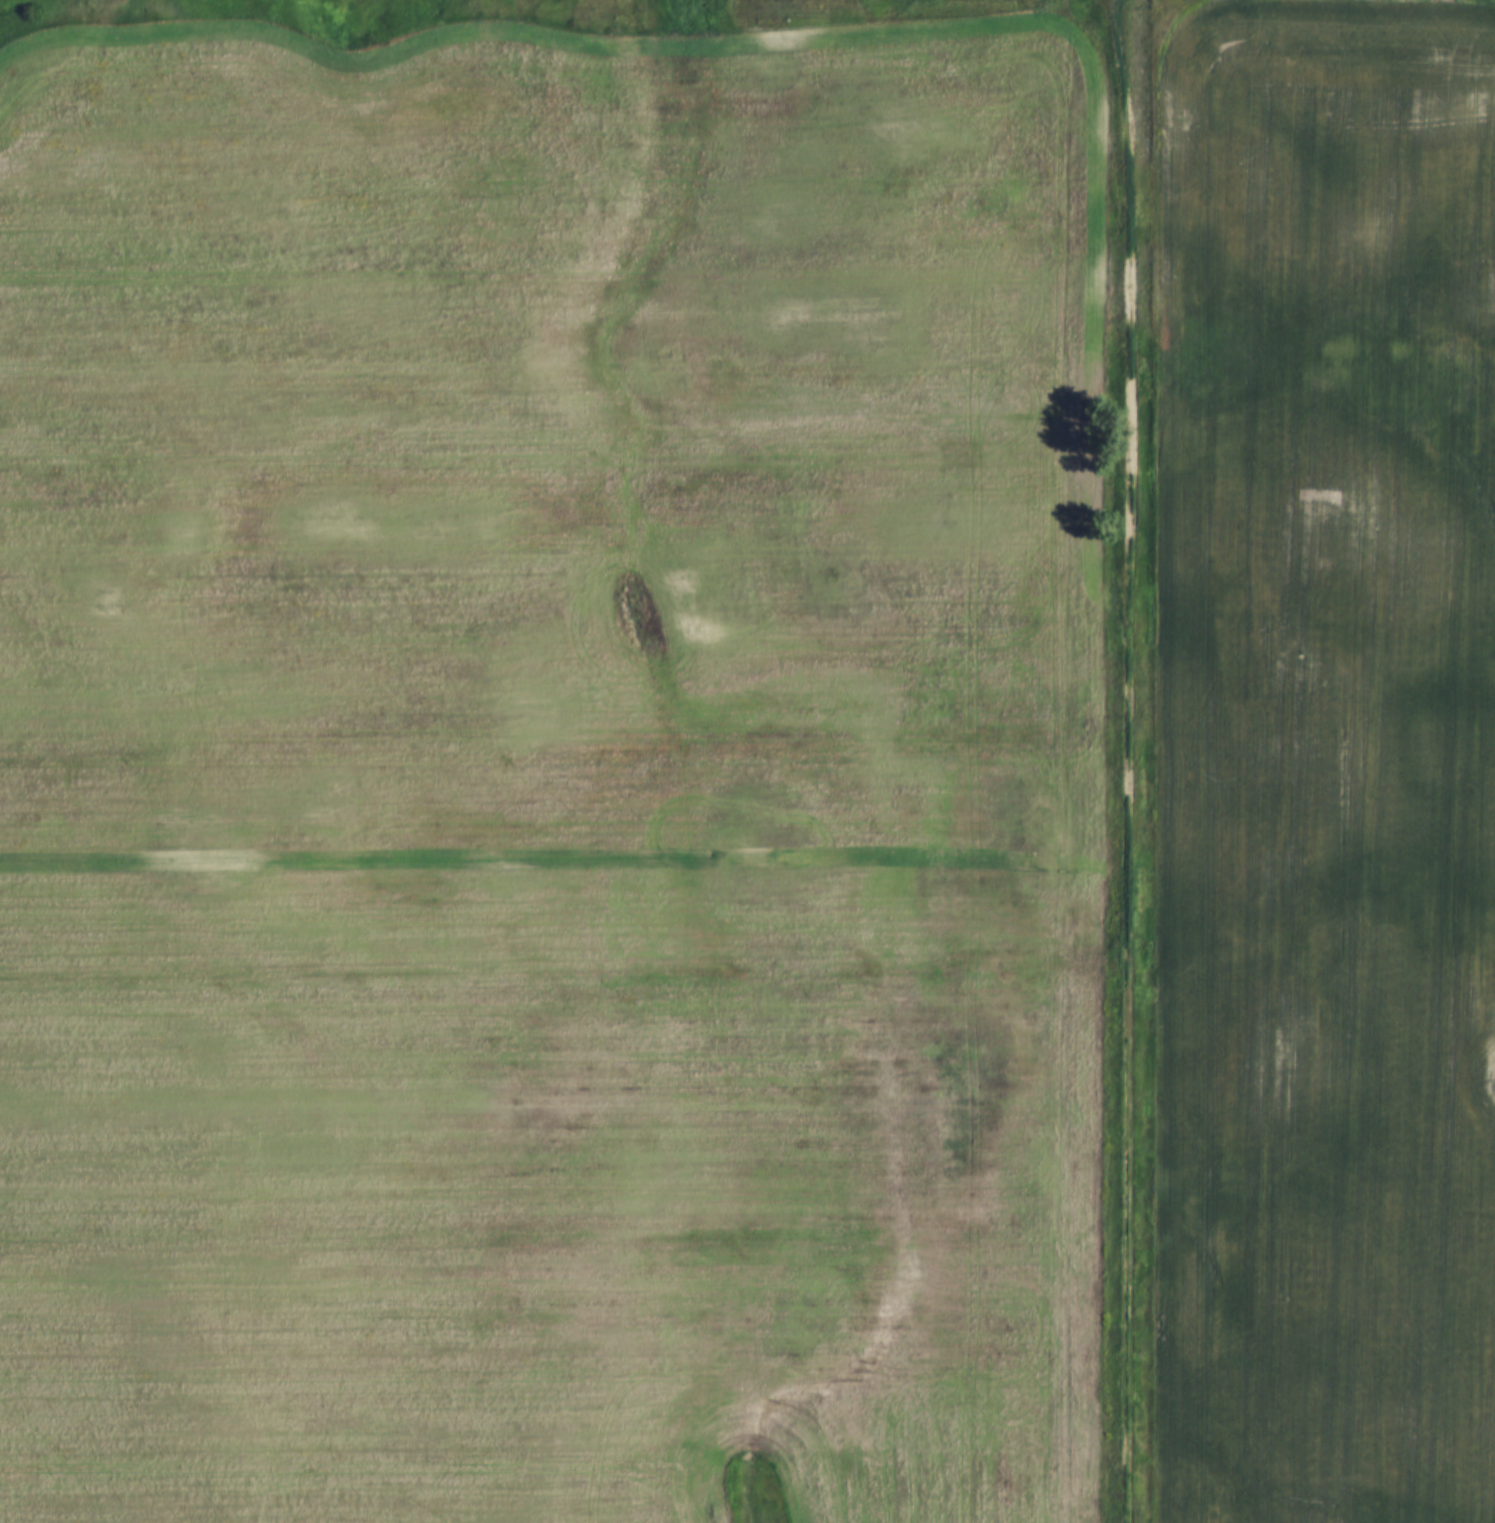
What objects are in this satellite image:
road: (1112, 3)
road: (1129, 760)

